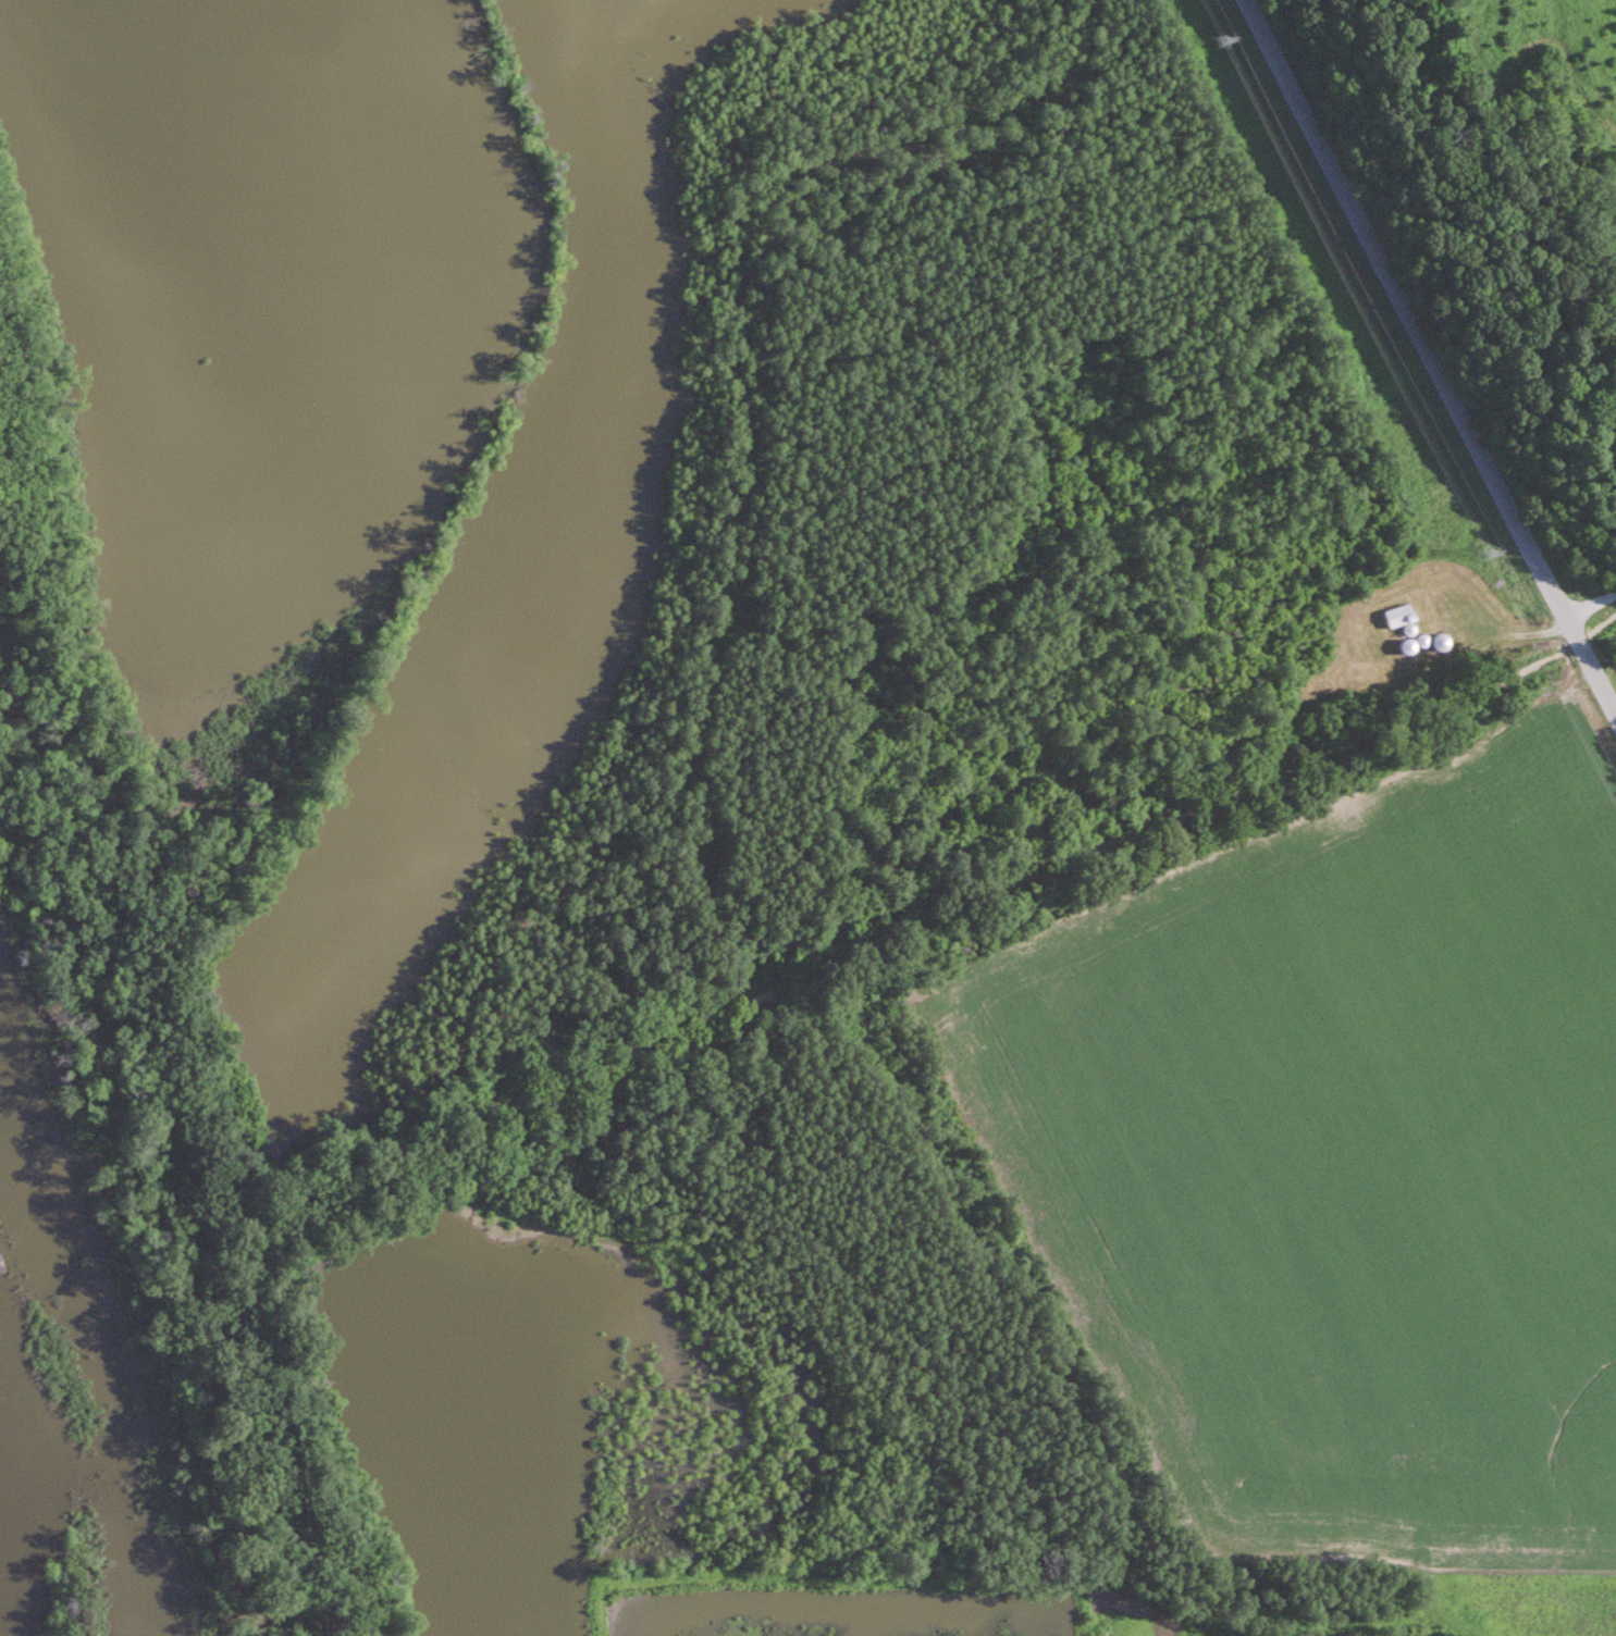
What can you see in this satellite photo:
road: (1430, 360)
building: (1483, 458)
road: (1589, 602)
building: (1399, 613)
building: (1440, 639)

